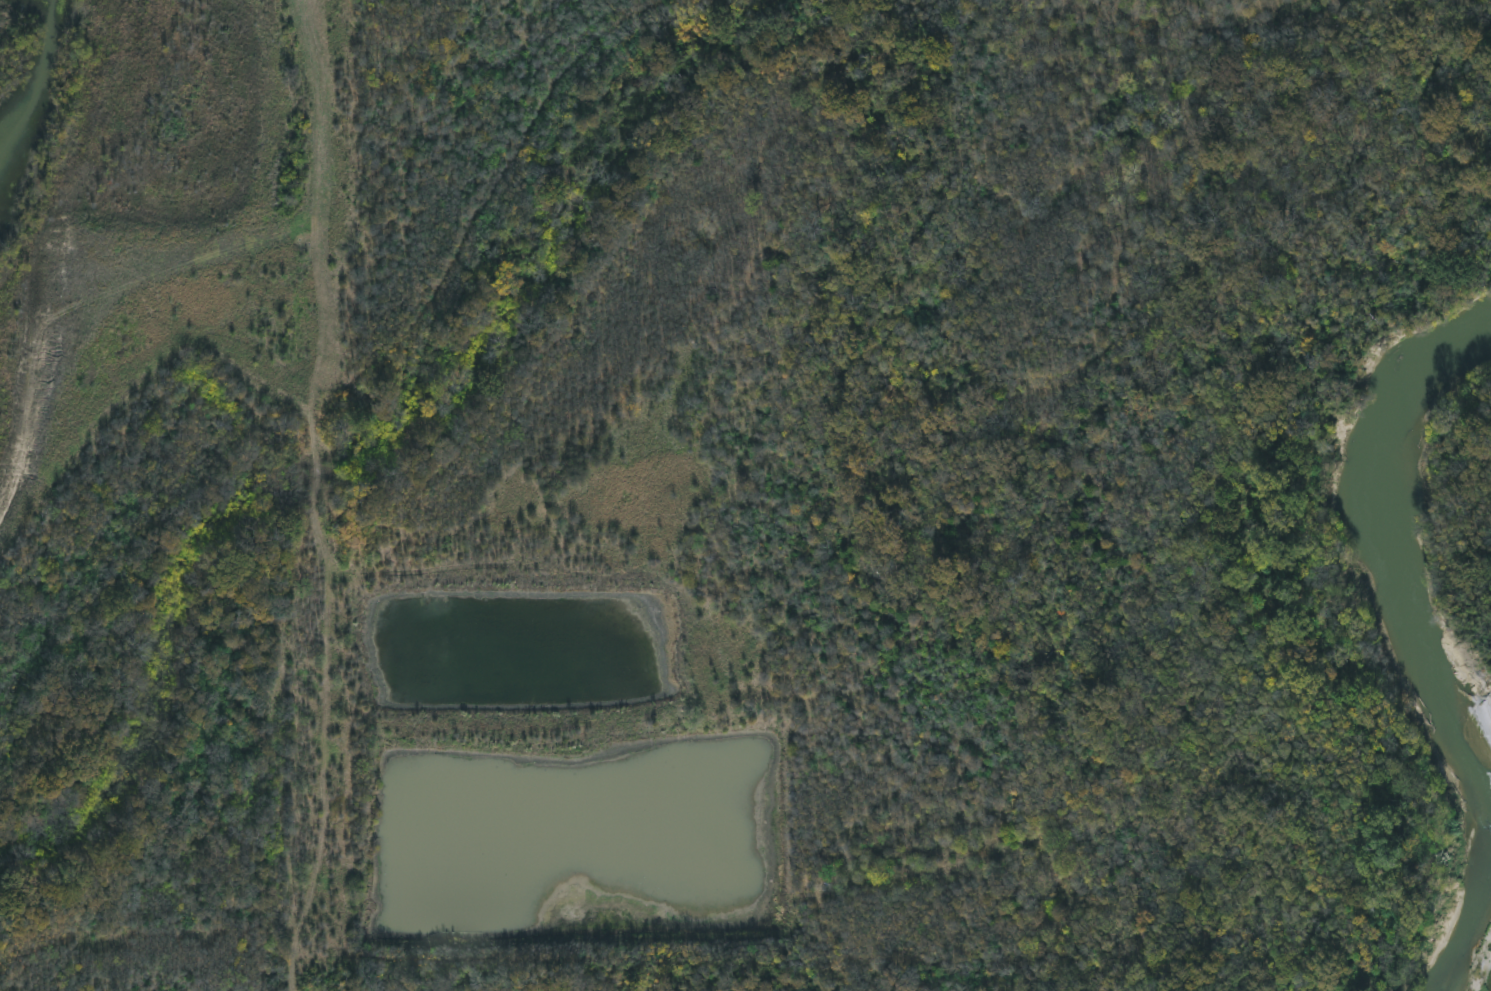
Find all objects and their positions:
road: (1210, 14)
road: (364, 368)
river: (1392, 538)
river: (1490, 988)

